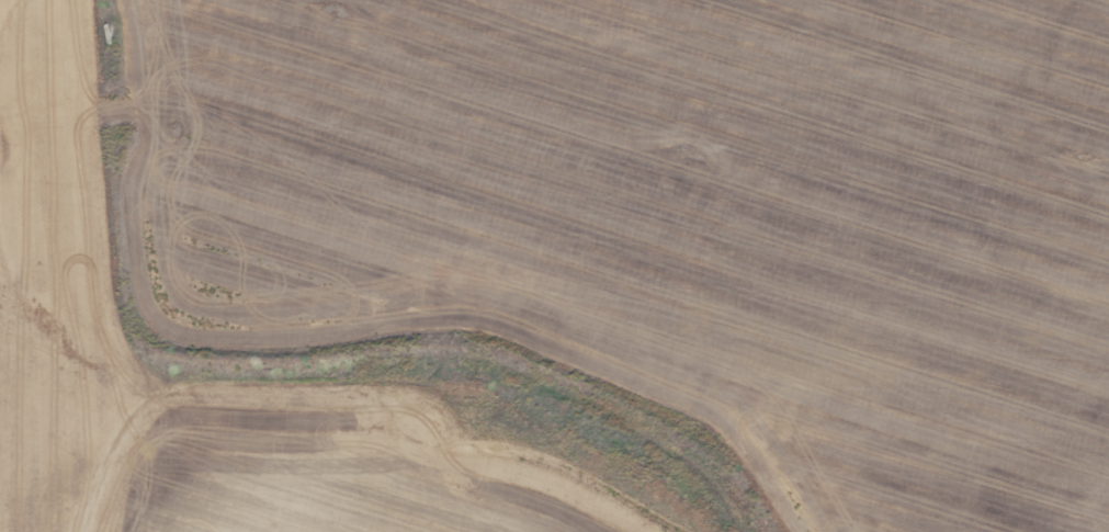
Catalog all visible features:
road: (150, 25)

